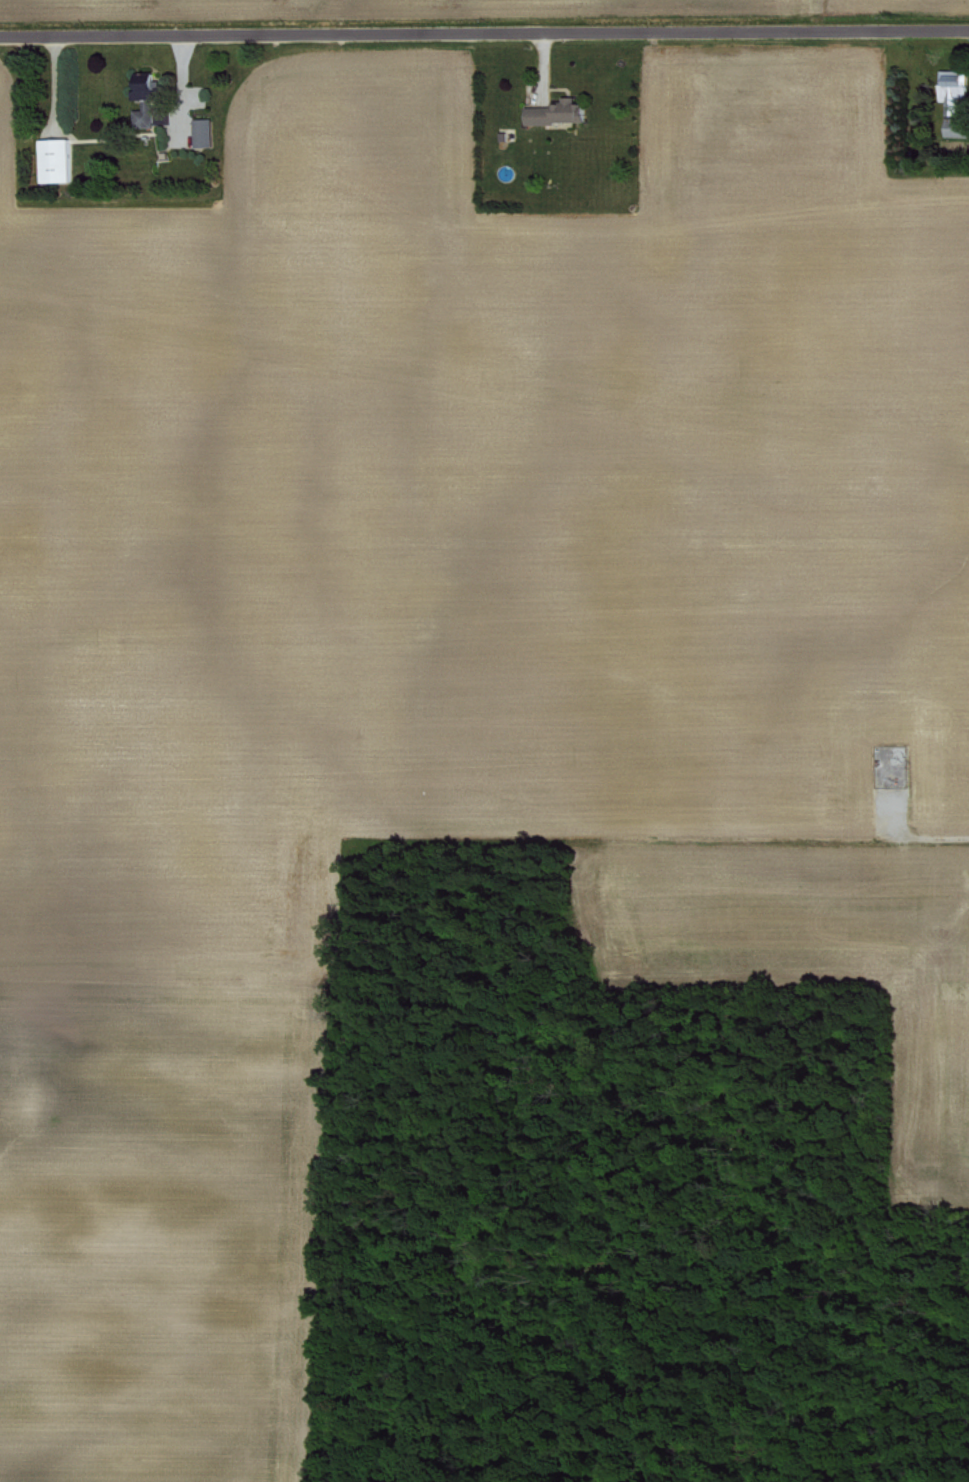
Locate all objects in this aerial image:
road: (484, 33)
building: (950, 98)
road: (181, 102)
building: (143, 103)
building: (552, 112)
building: (200, 131)
building: (52, 159)
road: (904, 835)

